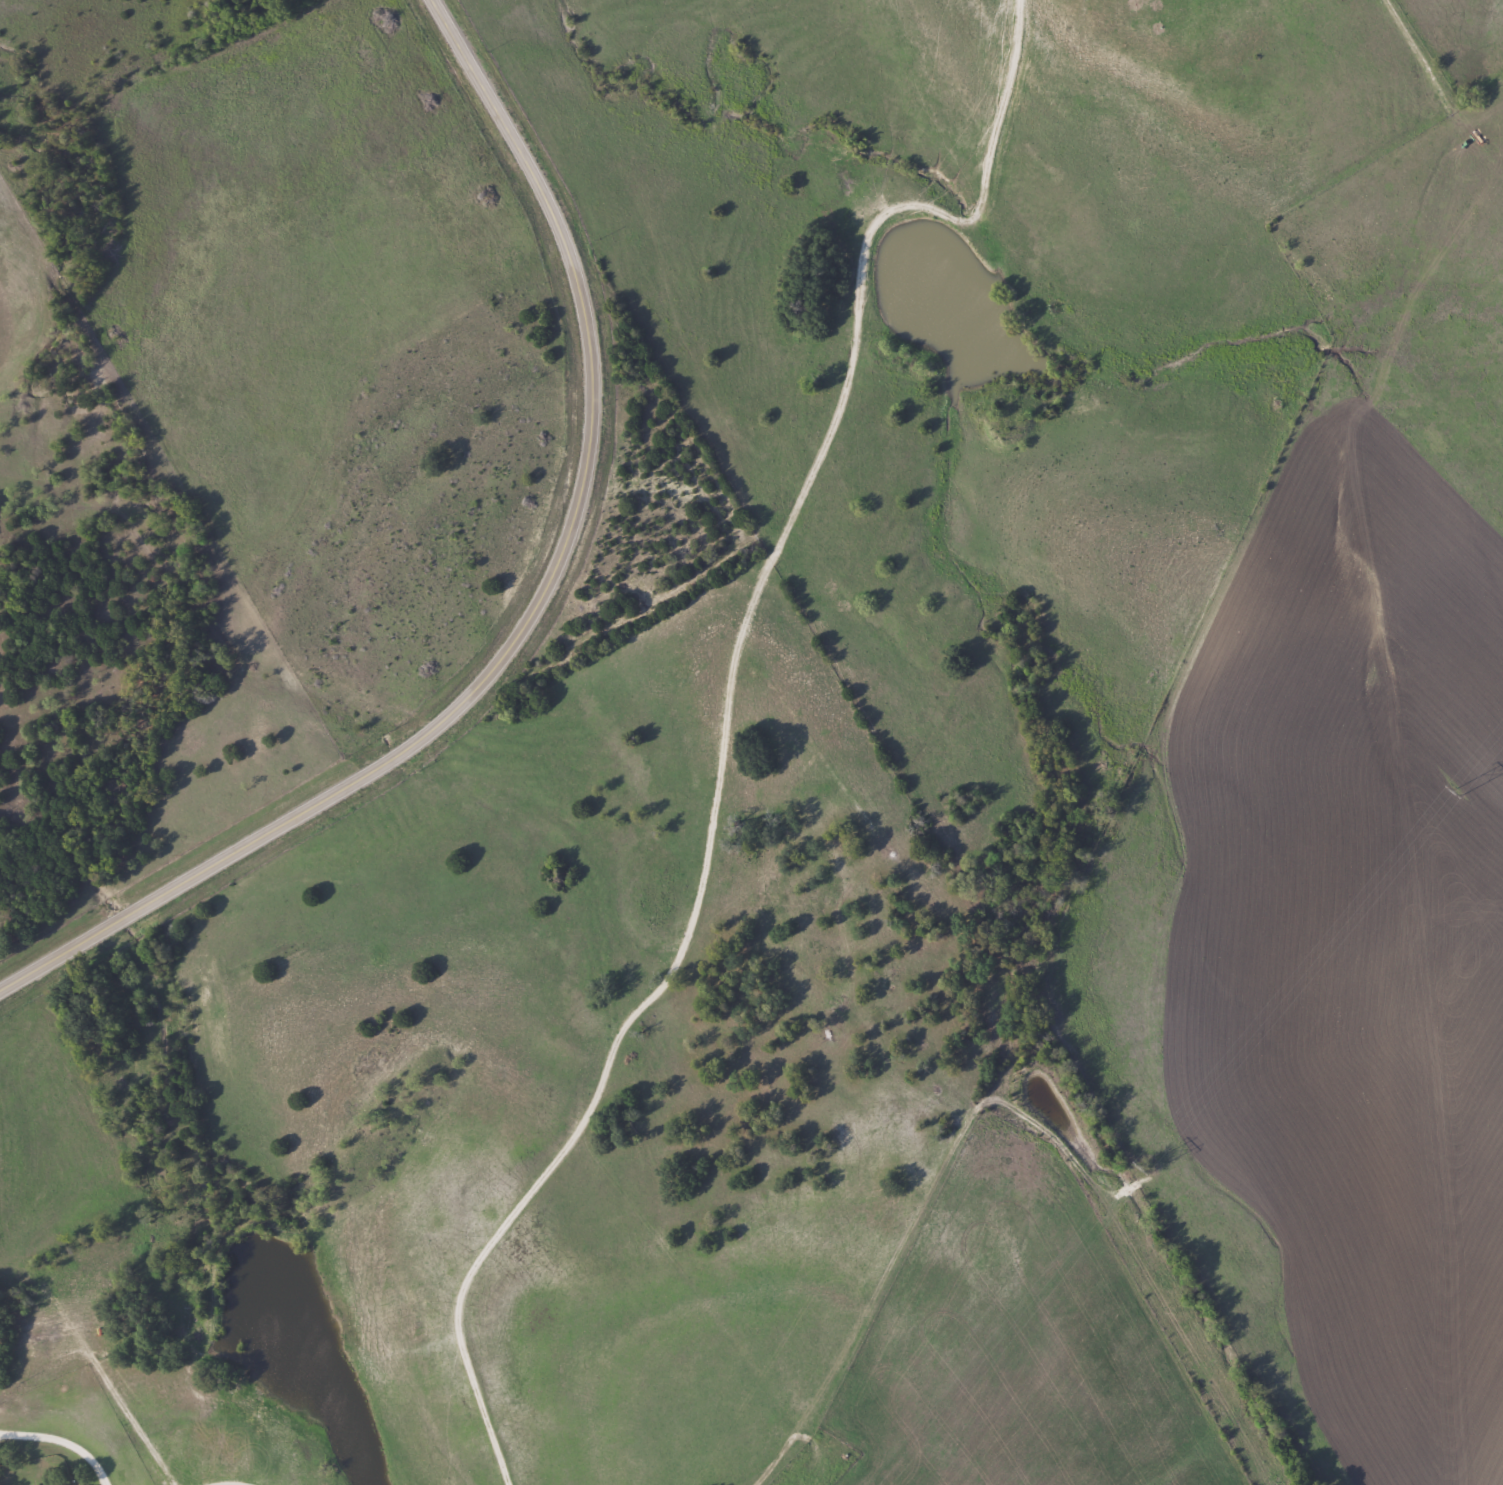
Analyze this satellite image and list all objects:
road: (712, 511)
road: (539, 615)
power tower: (1458, 790)
power tower: (1148, 1166)
road: (42, 1450)
building: (38, 1484)

